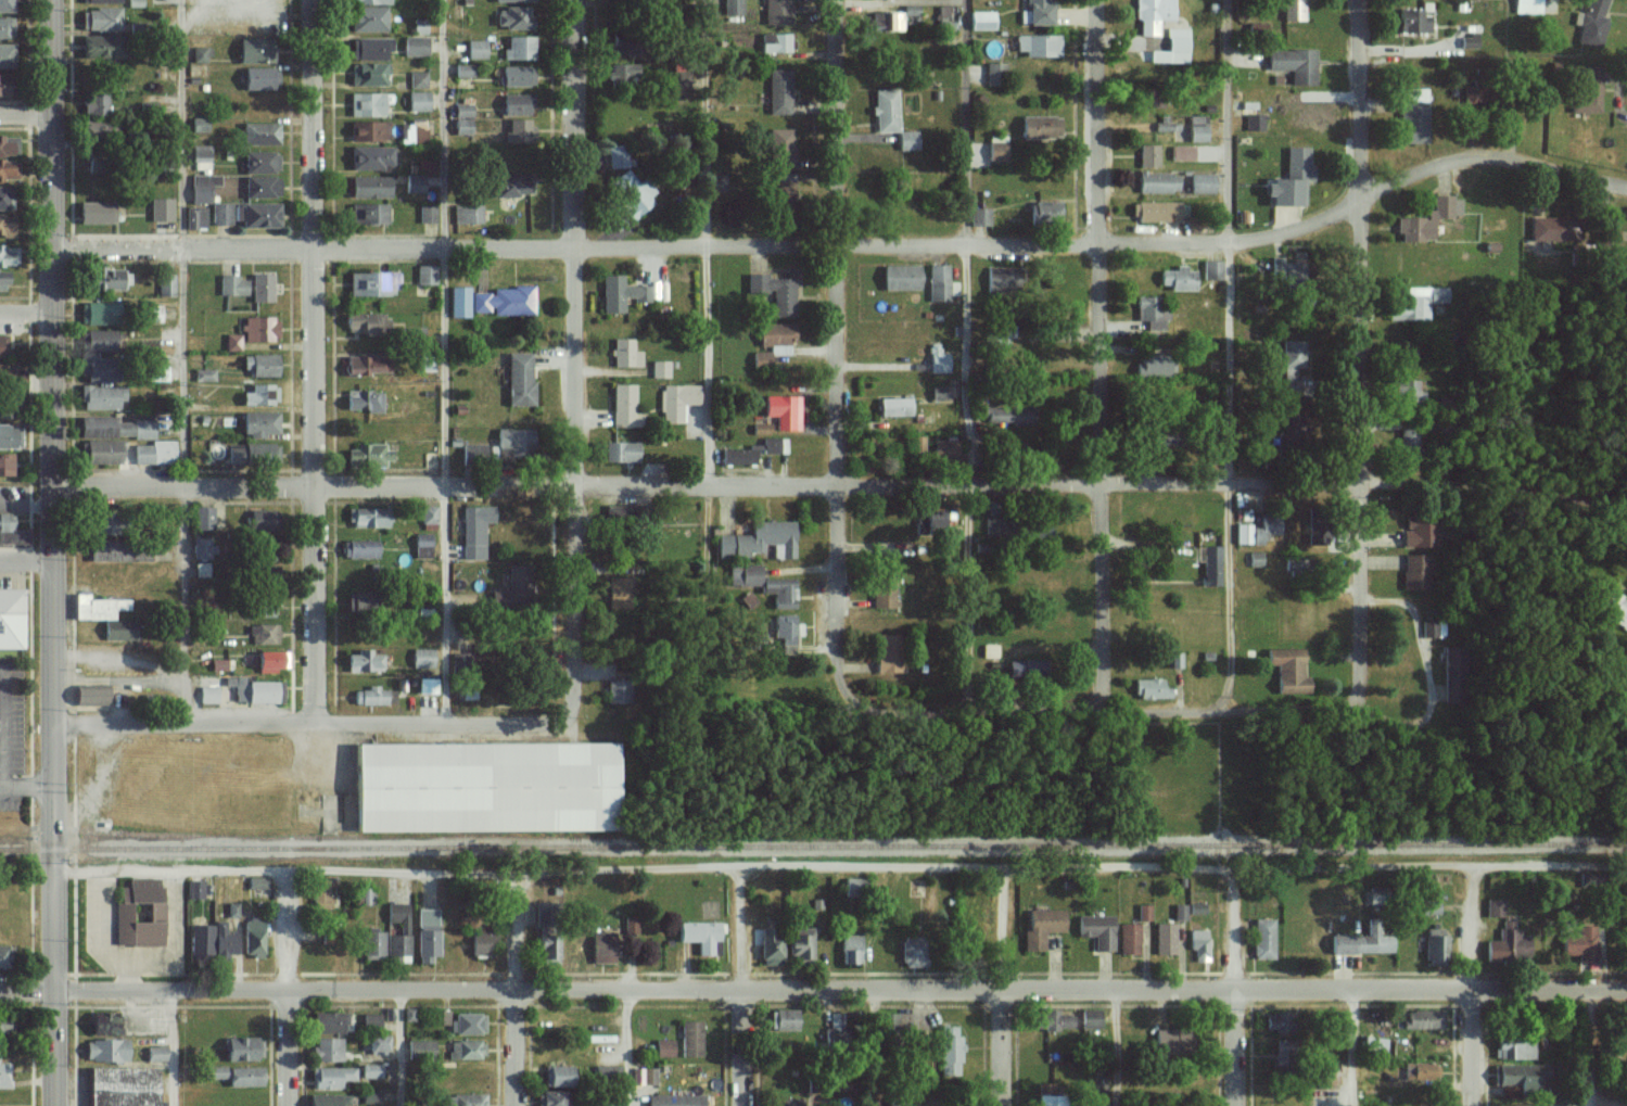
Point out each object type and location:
building: (514, 0)
building: (100, 1)
building: (368, 1)
building: (135, 2)
building: (1536, 5)
building: (5, 7)
building: (733, 7)
building: (910, 10)
building: (1294, 10)
building: (777, 12)
building: (1038, 12)
building: (1152, 14)
building: (943, 16)
building: (513, 17)
building: (367, 18)
building: (100, 20)
building: (982, 20)
building: (886, 21)
building: (1412, 21)
building: (1591, 22)
building: (5, 28)
building: (1469, 40)
building: (775, 42)
building: (620, 43)
building: (1038, 45)
building: (1177, 45)
building: (415, 46)
building: (97, 47)
building: (368, 48)
building: (519, 48)
building: (476, 49)
building: (255, 50)
building: (200, 54)
building: (5, 56)
building: (1294, 64)
building: (462, 69)
building: (622, 72)
building: (994, 72)
building: (368, 74)
building: (517, 75)
building: (259, 78)
building: (418, 79)
building: (4, 85)
building: (779, 91)
building: (1473, 96)
building: (1587, 96)
building: (418, 101)
building: (516, 103)
building: (92, 104)
building: (366, 104)
building: (462, 110)
building: (886, 110)
road: (26, 117)
road: (1226, 120)
building: (1255, 122)
building: (1413, 122)
building: (199, 124)
road: (700, 124)
road: (440, 125)
building: (461, 126)
building: (1039, 126)
building: (1197, 128)
building: (367, 130)
building: (520, 130)
building: (412, 131)
building: (259, 134)
building: (907, 139)
building: (9, 145)
building: (780, 148)
building: (996, 151)
building: (1182, 152)
building: (621, 155)
building: (1148, 155)
building: (202, 156)
building: (369, 158)
building: (260, 162)
building: (8, 170)
building: (1289, 178)
building: (1158, 181)
building: (1202, 182)
building: (412, 183)
building: (506, 185)
building: (260, 186)
building: (203, 187)
building: (368, 187)
building: (631, 192)
building: (5, 198)
building: (161, 209)
building: (1043, 211)
building: (94, 212)
building: (1159, 212)
building: (221, 213)
building: (427, 214)
building: (468, 214)
building: (256, 215)
building: (367, 215)
building: (979, 216)
building: (195, 217)
building: (7, 225)
building: (1553, 228)
building: (1411, 229)
building: (1615, 240)
road: (965, 242)
road: (1172, 243)
road: (308, 250)
road: (569, 250)
road: (115, 252)
building: (5, 254)
building: (1284, 268)
building: (1211, 270)
building: (425, 275)
building: (900, 277)
building: (104, 278)
building: (1172, 278)
building: (2, 279)
building: (1001, 279)
building: (939, 282)
building: (166, 283)
building: (372, 284)
building: (233, 285)
building: (262, 287)
building: (774, 292)
building: (621, 293)
building: (491, 301)
building: (1416, 302)
building: (151, 312)
building: (1149, 312)
building: (99, 313)
road: (26, 318)
building: (367, 323)
building: (259, 329)
building: (410, 332)
building: (776, 336)
building: (98, 340)
building: (232, 342)
building: (2, 346)
building: (147, 347)
road: (834, 351)
building: (625, 353)
road: (1098, 353)
road: (1355, 355)
road: (574, 356)
building: (1292, 357)
building: (761, 359)
building: (937, 359)
road: (312, 360)
road: (179, 361)
building: (366, 364)
building: (259, 365)
building: (94, 366)
road: (701, 366)
building: (1152, 366)
building: (660, 369)
building: (2, 373)
building: (156, 373)
building: (203, 374)
building: (519, 379)
building: (1404, 390)
building: (939, 392)
building: (260, 395)
building: (101, 396)
building: (356, 399)
building: (678, 401)
building: (894, 405)
building: (8, 406)
building: (625, 406)
building: (789, 411)
building: (1007, 414)
building: (258, 423)
building: (104, 428)
building: (143, 429)
building: (760, 429)
building: (10, 436)
building: (1410, 438)
building: (512, 441)
building: (771, 445)
building: (620, 450)
building: (946, 450)
building: (100, 452)
building: (155, 452)
building: (472, 452)
building: (259, 454)
building: (368, 455)
building: (737, 456)
building: (430, 459)
building: (5, 465)
road: (1226, 475)
road: (1035, 483)
road: (440, 485)
road: (246, 488)
building: (617, 512)
building: (428, 513)
building: (366, 517)
building: (202, 518)
building: (99, 522)
building: (259, 522)
building: (936, 522)
building: (991, 524)
building: (10, 530)
building: (1257, 530)
building: (480, 531)
building: (1039, 531)
building: (1422, 532)
building: (760, 541)
building: (422, 545)
building: (203, 548)
building: (359, 548)
building: (118, 551)
road: (53, 552)
building: (1256, 558)
building: (1209, 563)
road: (26, 564)
building: (1418, 571)
building: (745, 574)
building: (264, 575)
building: (882, 589)
building: (619, 592)
building: (778, 592)
road: (968, 596)
building: (500, 597)
building: (748, 599)
building: (358, 601)
building: (262, 607)
building: (1612, 608)
building: (104, 615)
building: (11, 618)
building: (1429, 628)
building: (1441, 628)
building: (264, 633)
building: (990, 650)
building: (887, 652)
building: (422, 658)
building: (270, 660)
building: (1174, 660)
building: (364, 661)
building: (218, 664)
road: (2, 669)
building: (1020, 669)
building: (1288, 670)
building: (1454, 672)
building: (427, 685)
building: (1149, 688)
building: (618, 691)
building: (207, 694)
building: (89, 695)
building: (370, 696)
road: (1102, 708)
road: (315, 722)
road: (5, 729)
building: (491, 787)
railway: (1349, 843)
railway: (535, 851)
road: (842, 869)
building: (257, 881)
building: (194, 889)
building: (320, 893)
building: (364, 895)
building: (1429, 906)
building: (1495, 906)
building: (1197, 907)
building: (1144, 911)
building: (139, 912)
building: (529, 912)
building: (1180, 912)
building: (630, 924)
building: (404, 927)
building: (1041, 927)
building: (1096, 930)
building: (427, 935)
building: (700, 935)
building: (253, 937)
building: (1129, 937)
building: (1166, 938)
building: (1263, 938)
building: (211, 939)
building: (799, 941)
building: (1362, 941)
building: (1509, 942)
building: (1580, 942)
building: (480, 943)
building: (768, 943)
building: (372, 944)
building: (1199, 944)
building: (1435, 944)
building: (850, 949)
building: (913, 951)
building: (603, 952)
building: (2, 954)
road: (741, 987)
road: (1475, 987)
road: (288, 988)
road: (1005, 988)
road: (1235, 989)
road: (517, 990)
road: (813, 991)
building: (1090, 1017)
building: (783, 1018)
building: (1423, 1018)
building: (370, 1019)
building: (839, 1019)
building: (887, 1019)
building: (1050, 1019)
building: (328, 1021)
building: (1278, 1021)
building: (104, 1022)
building: (469, 1022)
building: (3, 1024)
building: (690, 1038)
building: (1170, 1040)
building: (377, 1042)
building: (1375, 1045)
building: (663, 1046)
road: (173, 1047)
building: (243, 1047)
road: (630, 1047)
building: (1514, 1047)
building: (327, 1048)
road: (402, 1048)
building: (420, 1048)
building: (465, 1048)
road: (873, 1048)
road: (1114, 1048)
road: (1353, 1048)
road: (1589, 1048)
building: (104, 1050)
building: (949, 1050)
building: (155, 1053)
building: (1421, 1069)
building: (371, 1070)
building: (606, 1070)
building: (216, 1071)
building: (557, 1075)
building: (649, 1075)
building: (1514, 1075)
building: (243, 1076)
building: (331, 1076)
building: (1100, 1083)
building: (123, 1086)
building: (370, 1096)
building: (550, 1097)
building: (328, 1099)
building: (465, 1099)
building: (675, 1099)
building: (841, 1103)
building: (1556, 1104)

